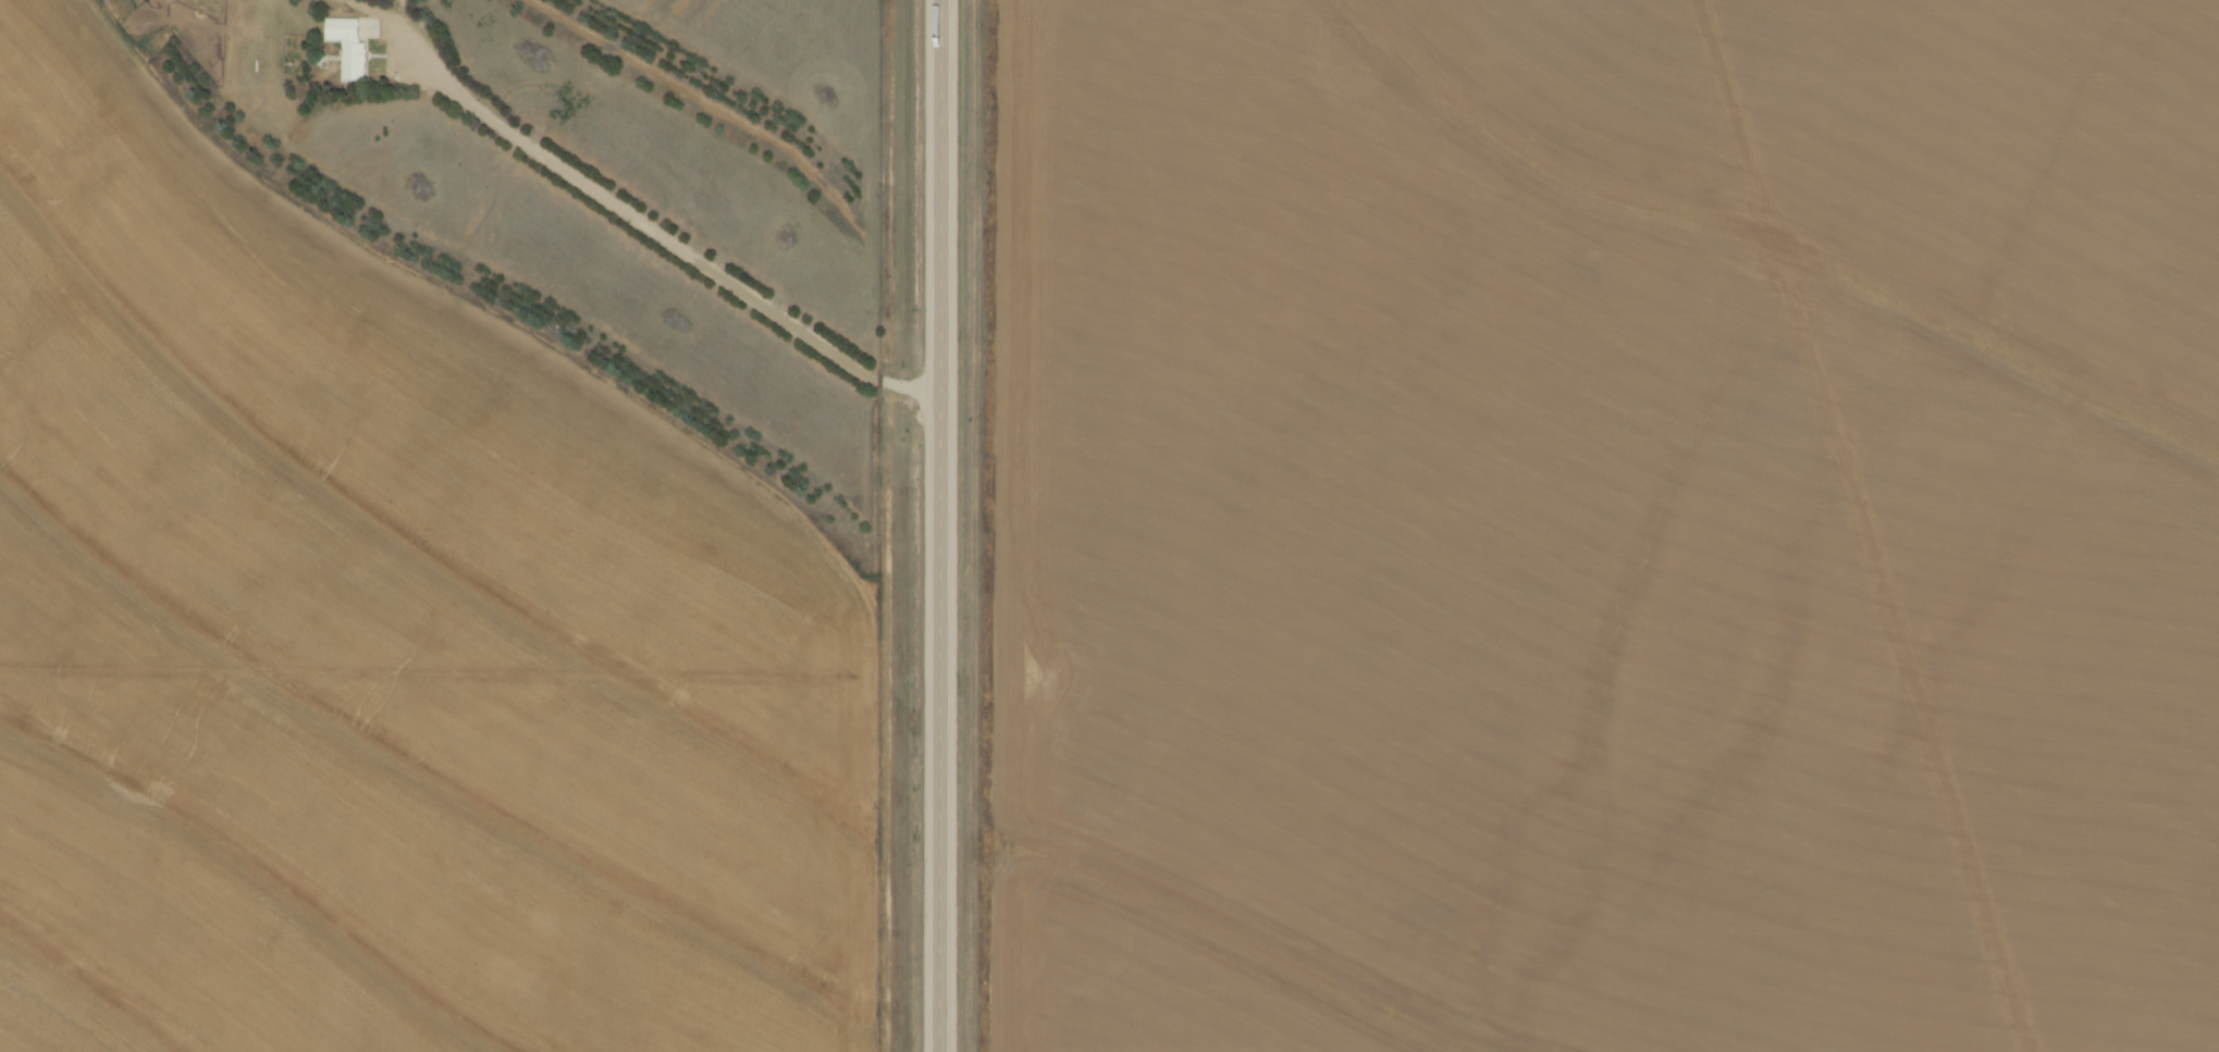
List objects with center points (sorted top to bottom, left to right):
building: (346, 47)
road: (625, 211)
road: (935, 525)

